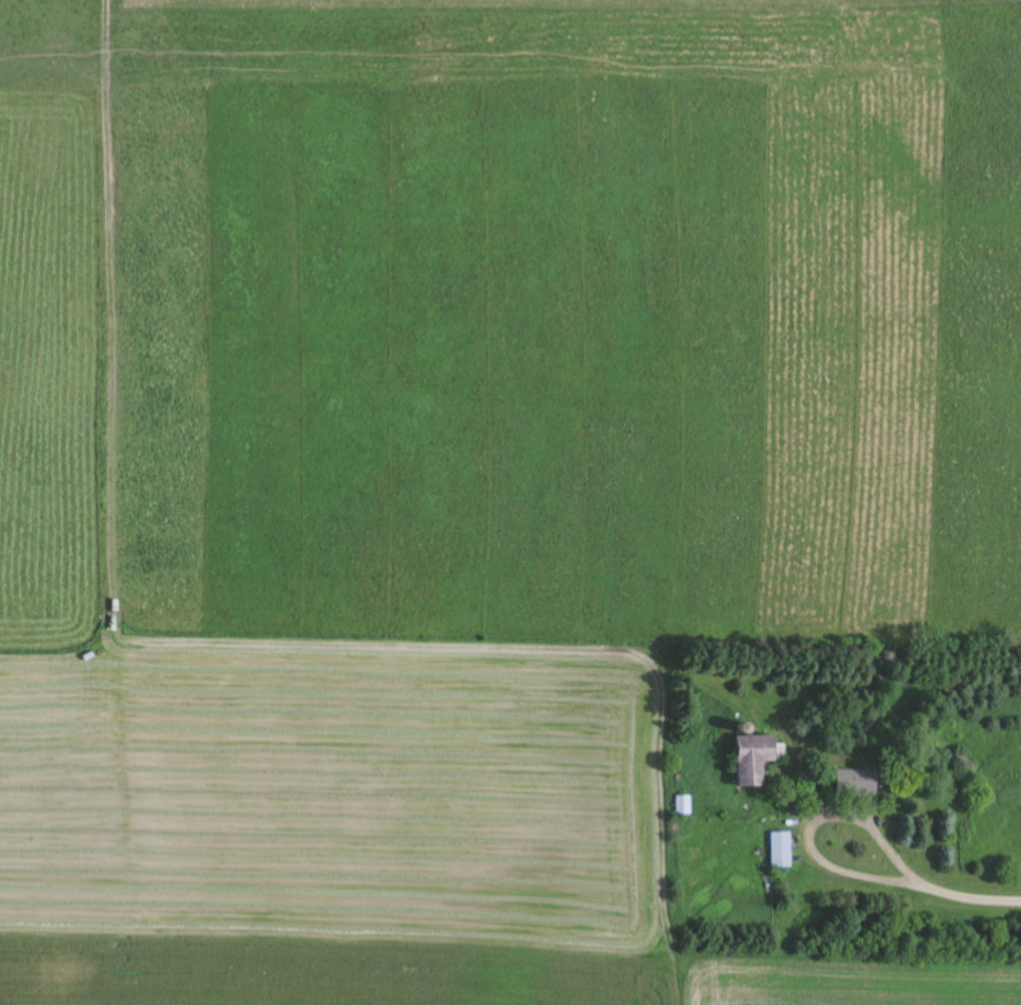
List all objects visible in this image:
crop: (471, 468)
building: (756, 759)
building: (856, 781)
building: (684, 805)
building: (782, 850)
road: (935, 887)

